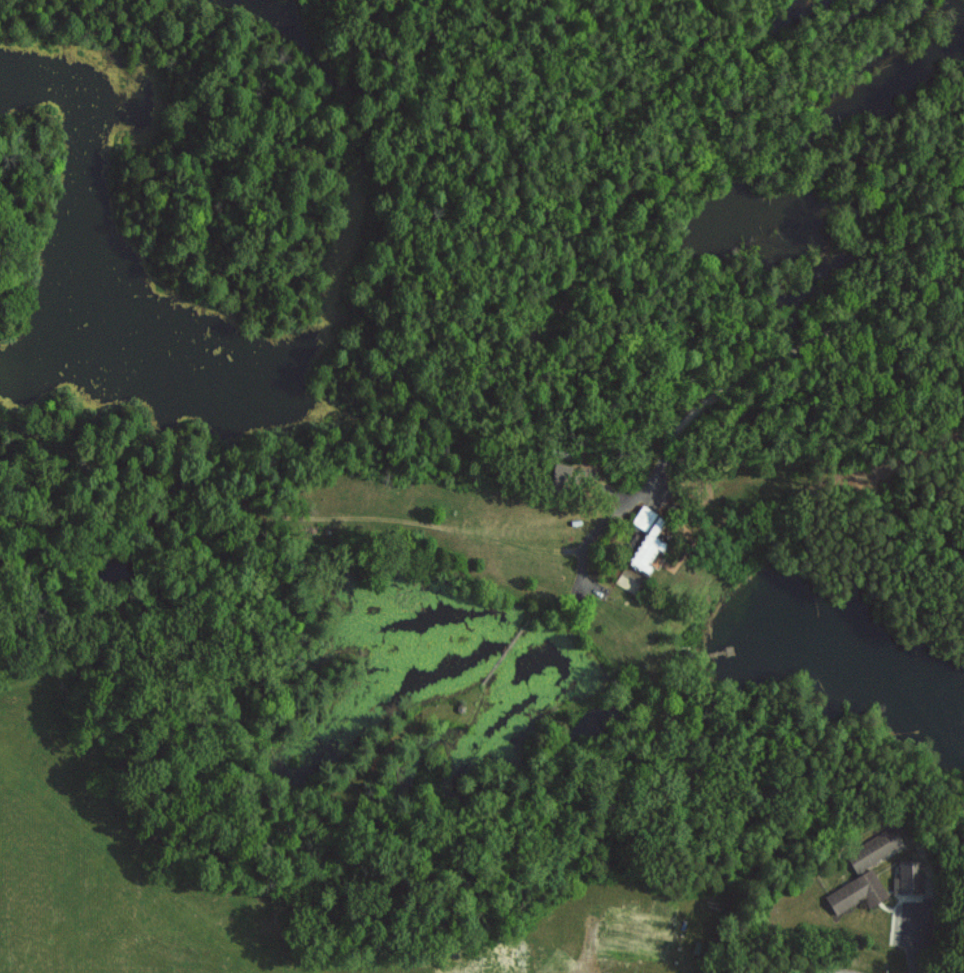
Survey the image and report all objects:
road: (783, 356)
building: (642, 539)
building: (871, 848)
building: (906, 876)
building: (854, 891)
road: (853, 972)

